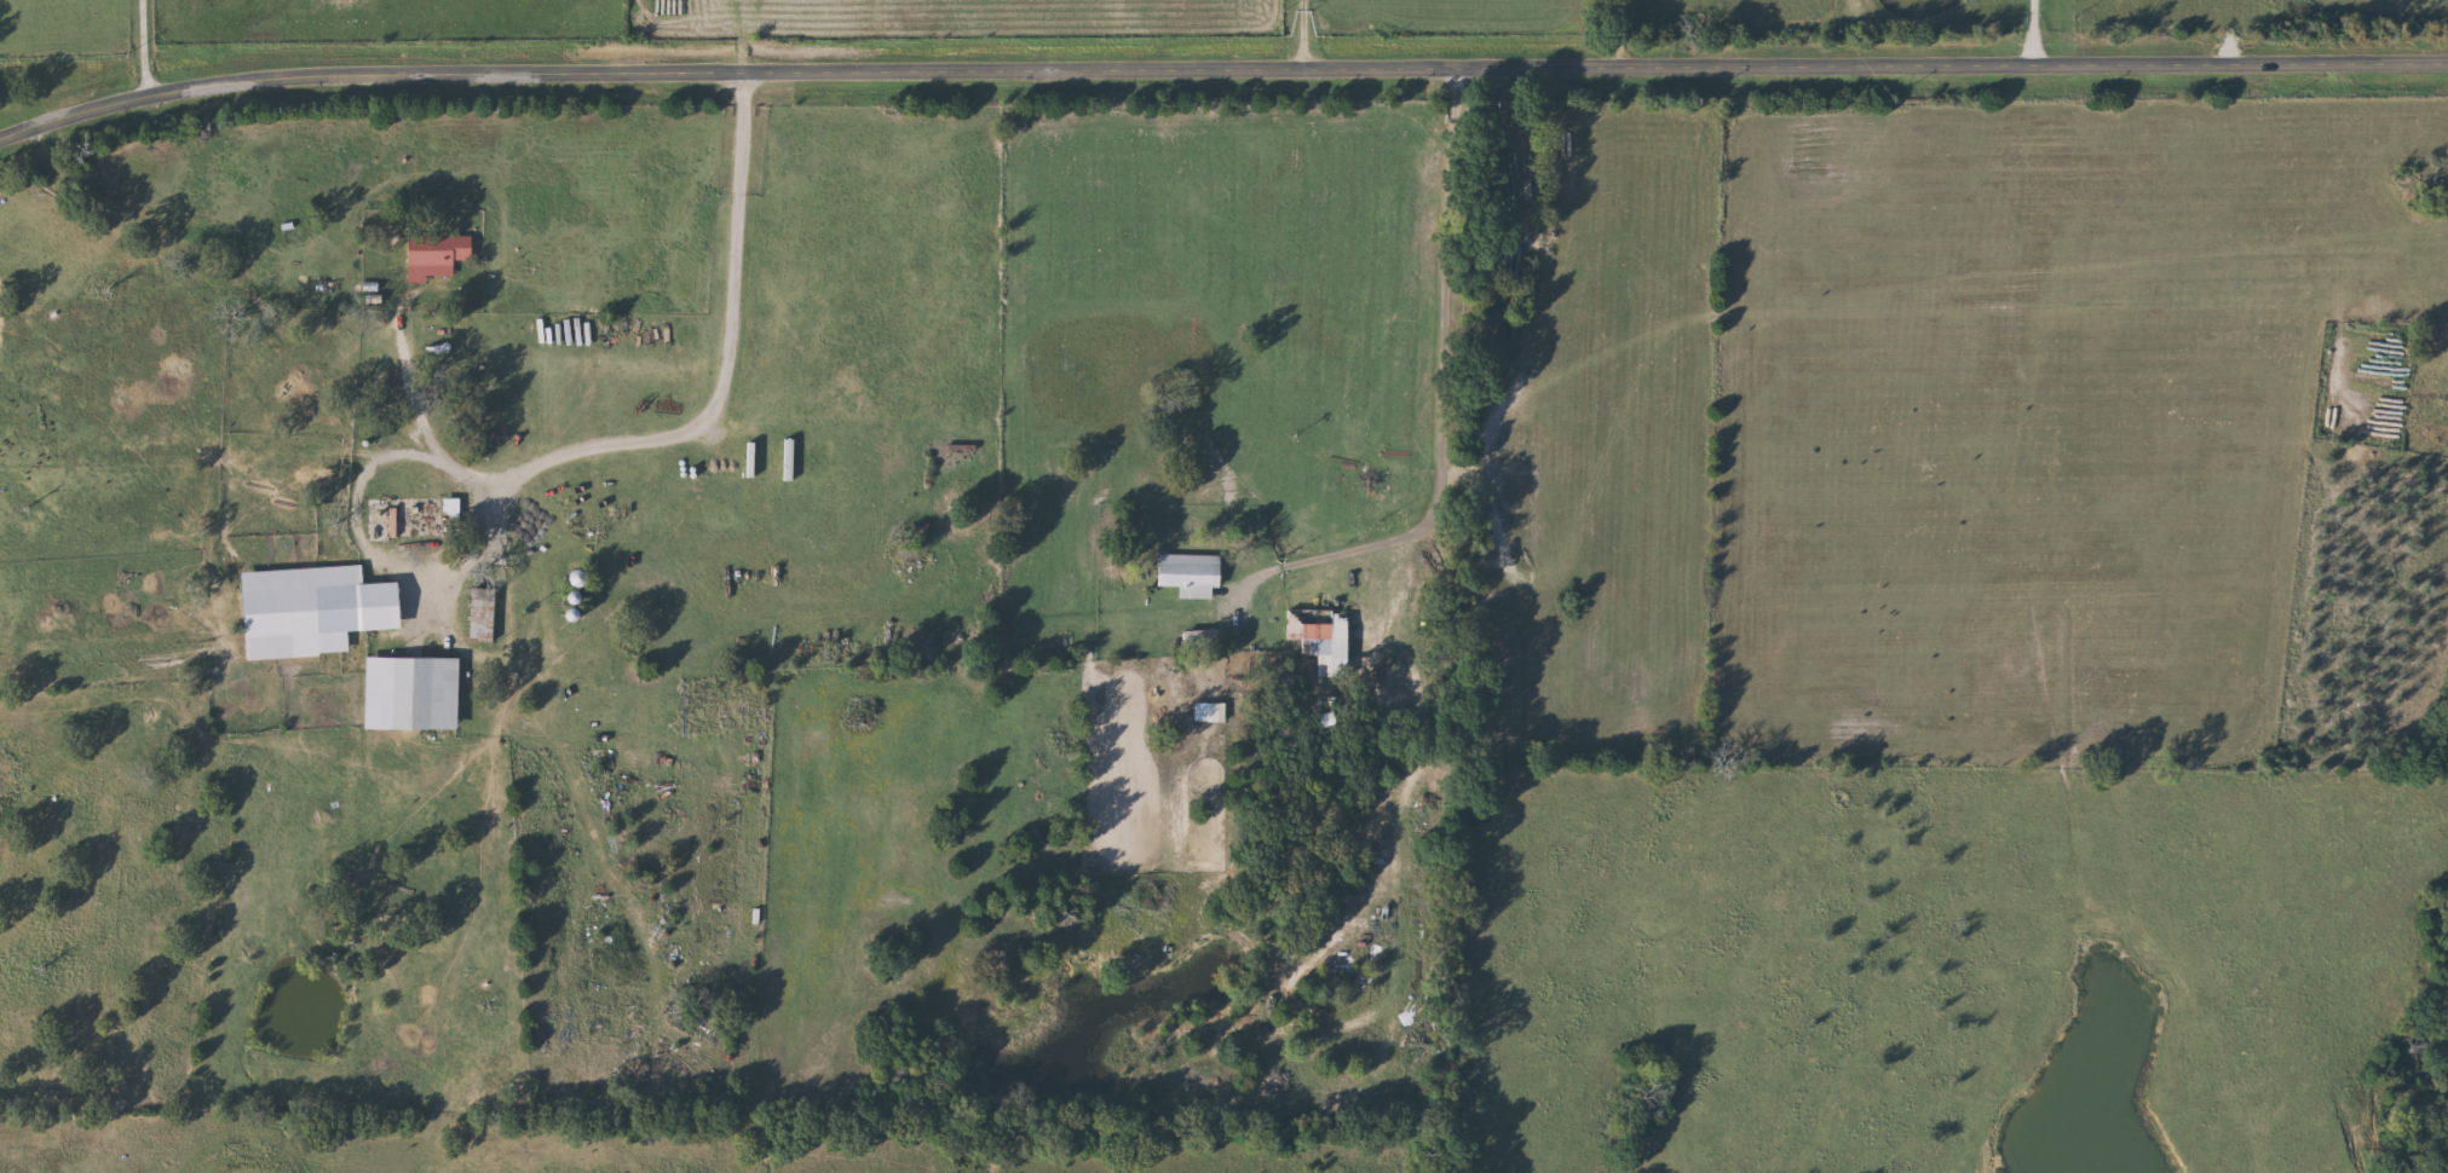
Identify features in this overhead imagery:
road: (2043, 28)
road: (1623, 29)
road: (1307, 31)
road: (148, 45)
road: (1219, 65)
road: (672, 166)
building: (443, 249)
road: (1442, 364)
road: (414, 387)
road: (639, 440)
building: (755, 460)
building: (453, 515)
building: (1196, 573)
building: (584, 578)
building: (317, 609)
building: (486, 614)
building: (1317, 628)
building: (416, 693)

